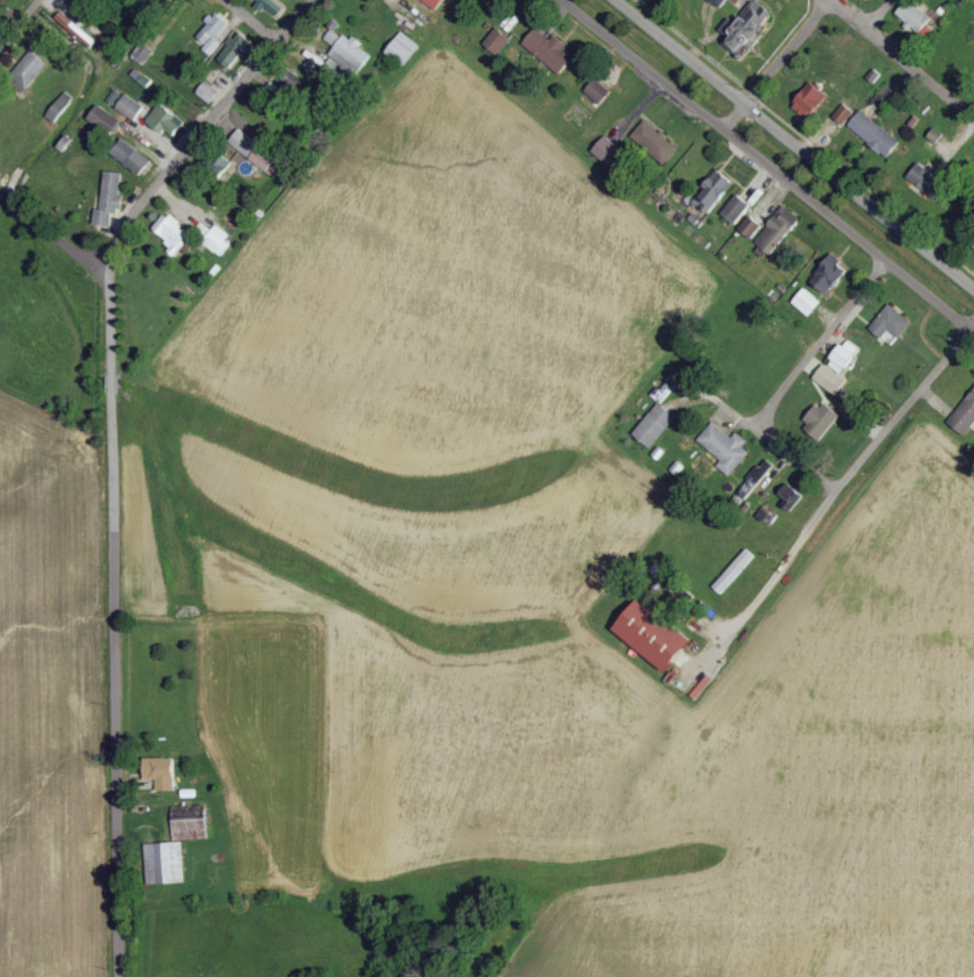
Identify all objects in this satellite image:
building: (720, 2)
building: (435, 3)
building: (272, 6)
road: (877, 15)
building: (915, 16)
road: (19, 23)
building: (77, 29)
building: (750, 29)
building: (212, 32)
road: (267, 37)
building: (499, 41)
building: (404, 48)
building: (235, 50)
building: (551, 50)
building: (144, 53)
road: (901, 56)
building: (345, 59)
road: (776, 64)
building: (30, 69)
building: (142, 77)
building: (599, 91)
building: (209, 92)
building: (812, 101)
building: (131, 107)
building: (844, 113)
building: (106, 119)
building: (168, 120)
road: (201, 126)
building: (876, 134)
building: (940, 137)
building: (656, 140)
road: (796, 144)
building: (256, 152)
building: (610, 152)
building: (133, 156)
road: (767, 163)
building: (930, 181)
building: (715, 191)
building: (111, 198)
building: (737, 209)
building: (753, 226)
building: (777, 231)
building: (173, 232)
road: (49, 233)
building: (219, 239)
building: (831, 274)
building: (808, 302)
building: (893, 322)
building: (845, 356)
road: (794, 378)
building: (832, 379)
building: (966, 416)
building: (824, 419)
building: (656, 425)
building: (726, 448)
road: (852, 468)
building: (757, 477)
building: (740, 566)
road: (114, 618)
building: (655, 635)
building: (163, 773)
building: (167, 864)

